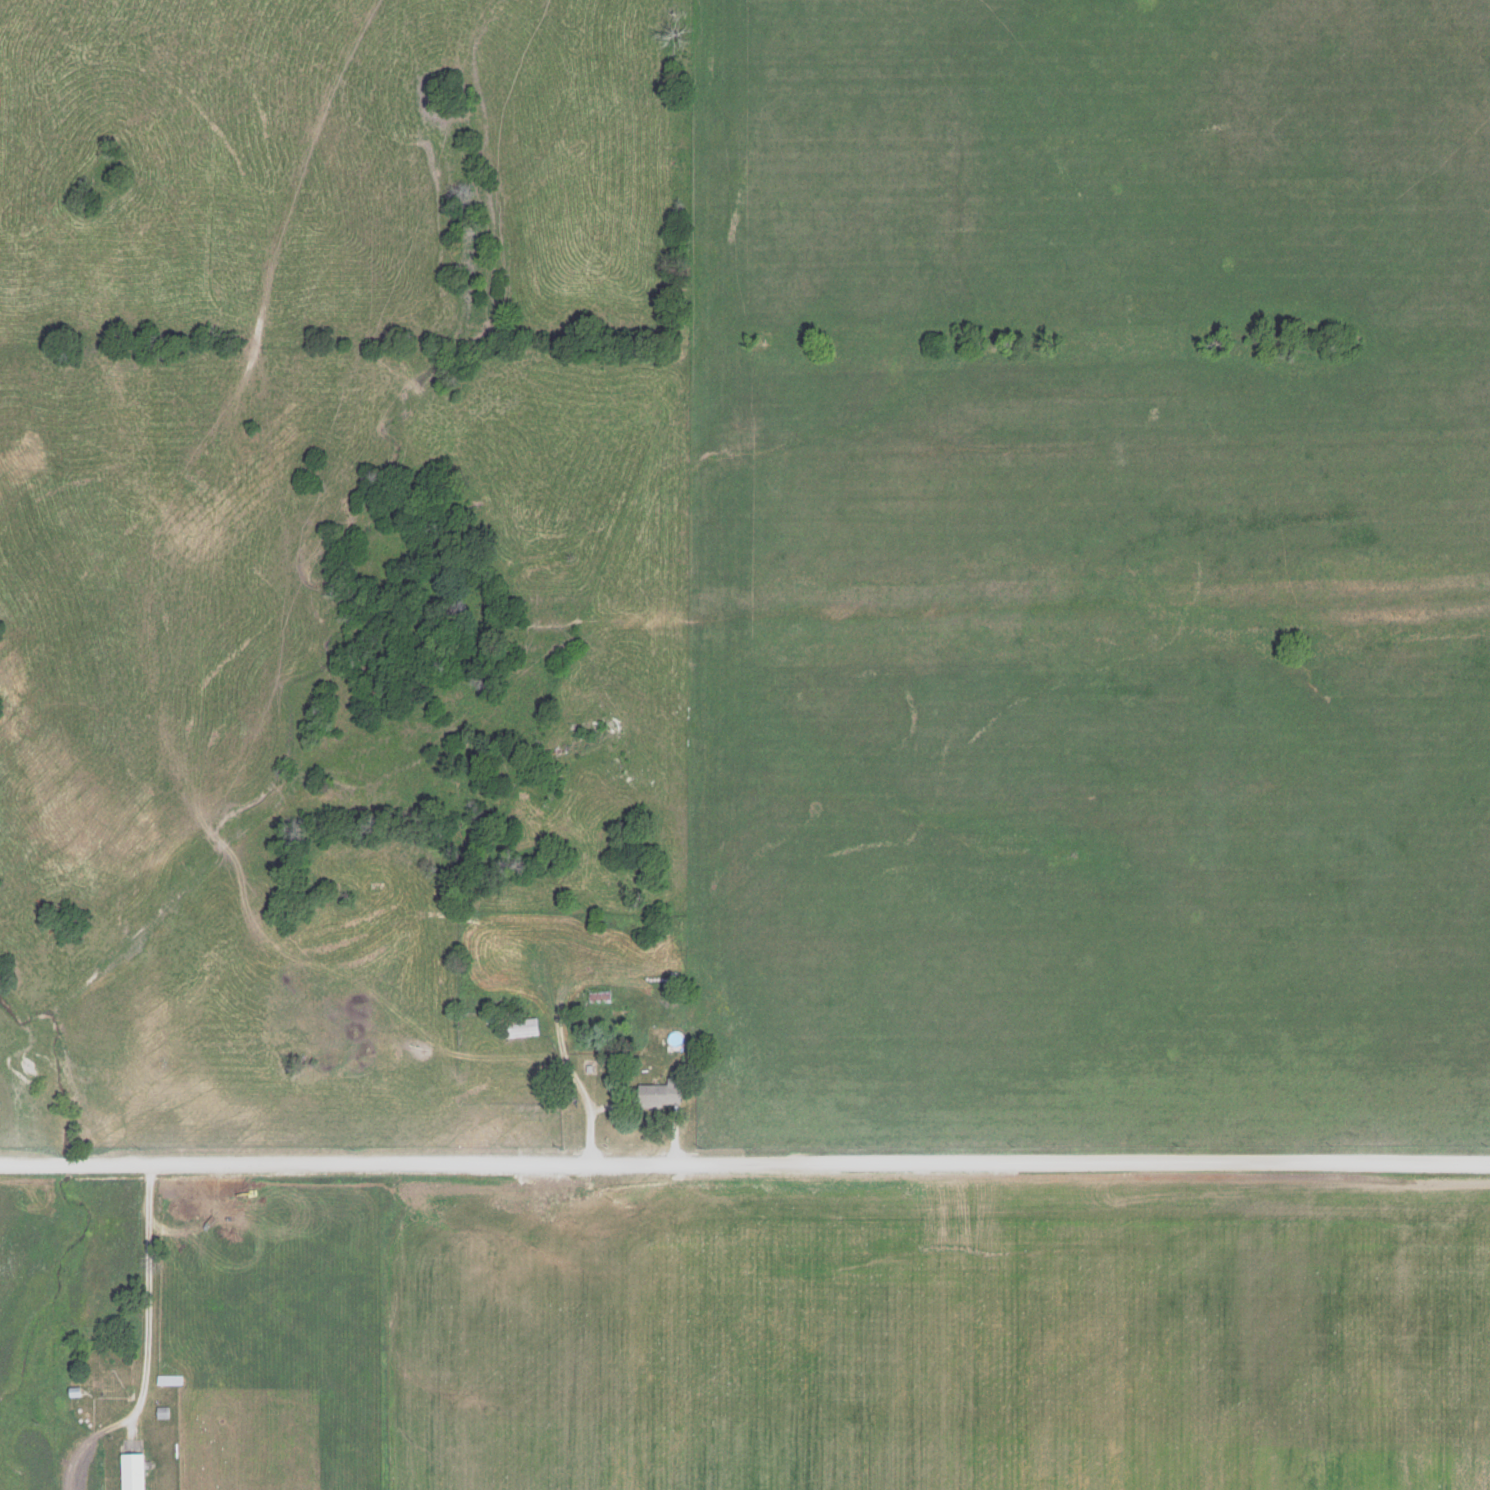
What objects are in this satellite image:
road: (600, 1090)
building: (657, 1096)
road: (744, 1167)
road: (157, 1297)

